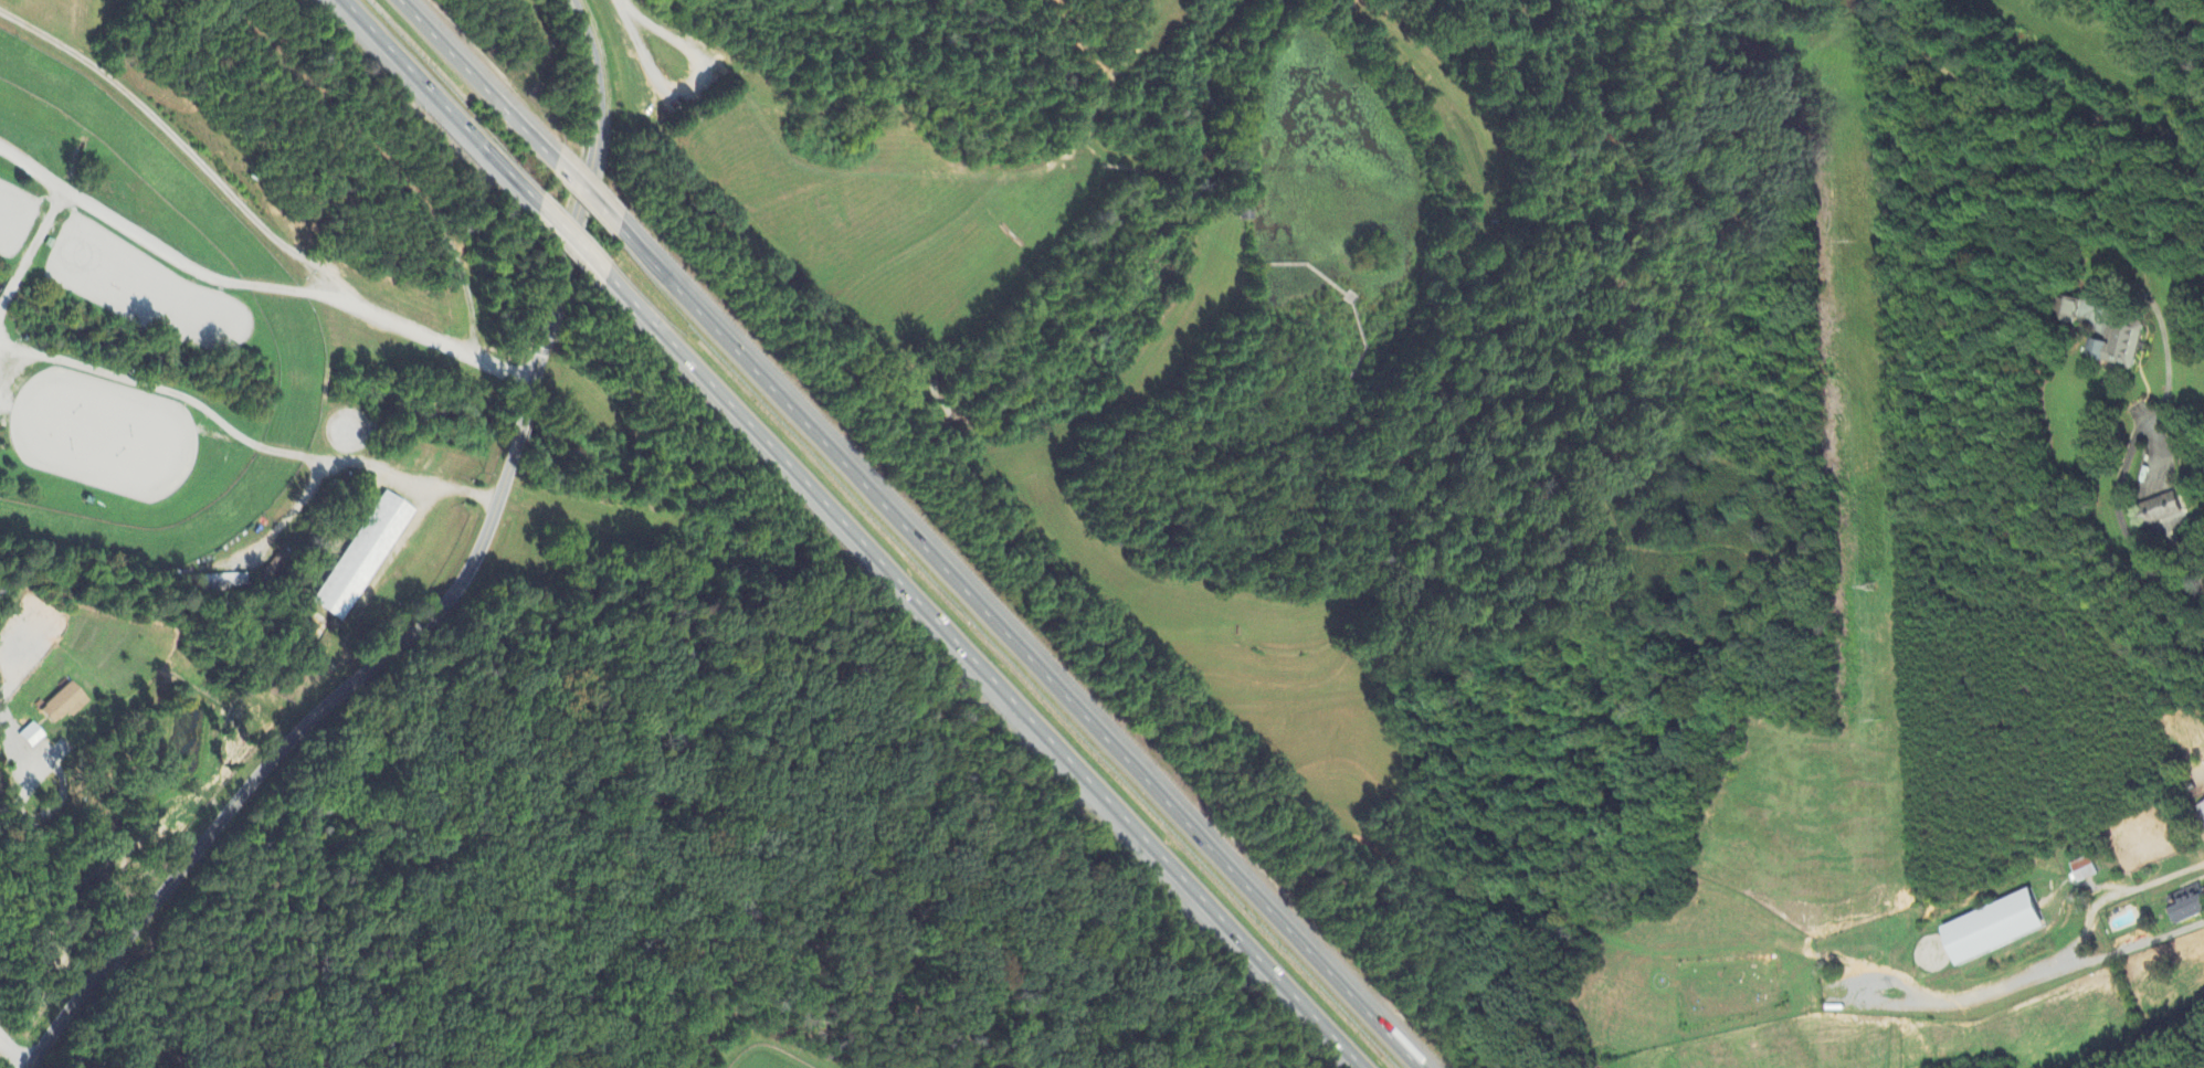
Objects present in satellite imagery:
road: (580, 2)
road: (481, 84)
road: (695, 89)
road: (440, 104)
road: (177, 139)
road: (590, 195)
road: (571, 239)
road: (33, 252)
road: (257, 285)
road: (344, 464)
road: (2121, 521)
building: (362, 558)
building: (222, 583)
road: (449, 604)
road: (1022, 645)
road: (989, 672)
building: (64, 705)
building: (30, 732)
road: (23, 795)
building: (2200, 815)
building: (2082, 871)
building: (2189, 903)
building: (1996, 928)
road: (2080, 938)
road: (1976, 987)
road: (14, 1051)

